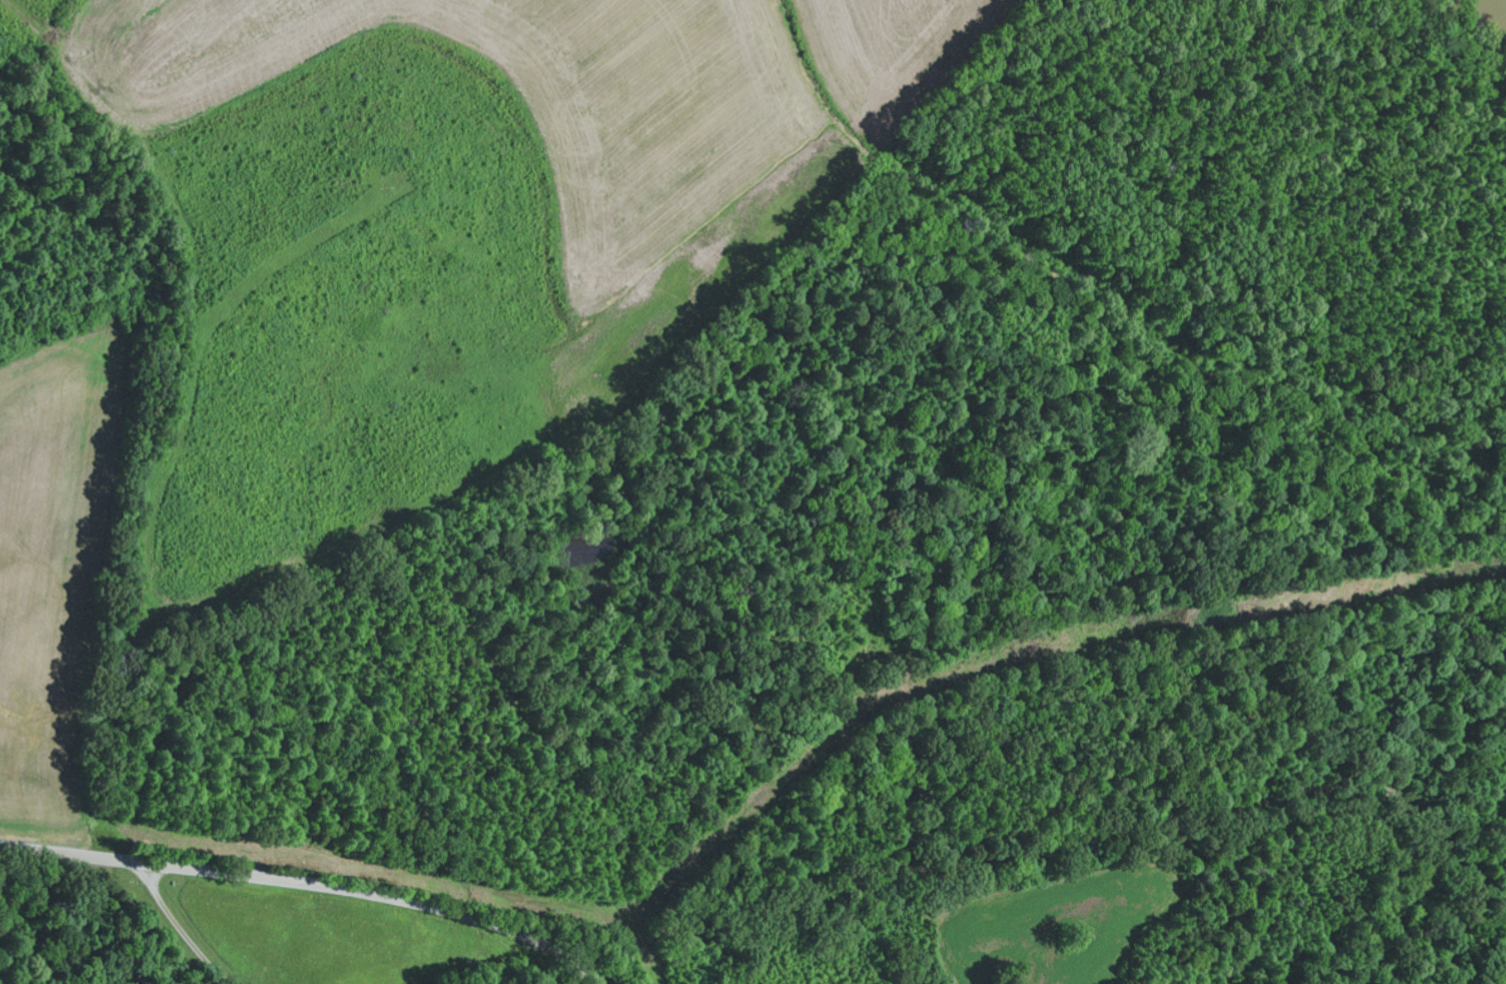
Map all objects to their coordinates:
road: (307, 883)
road: (845, 901)
road: (184, 928)

